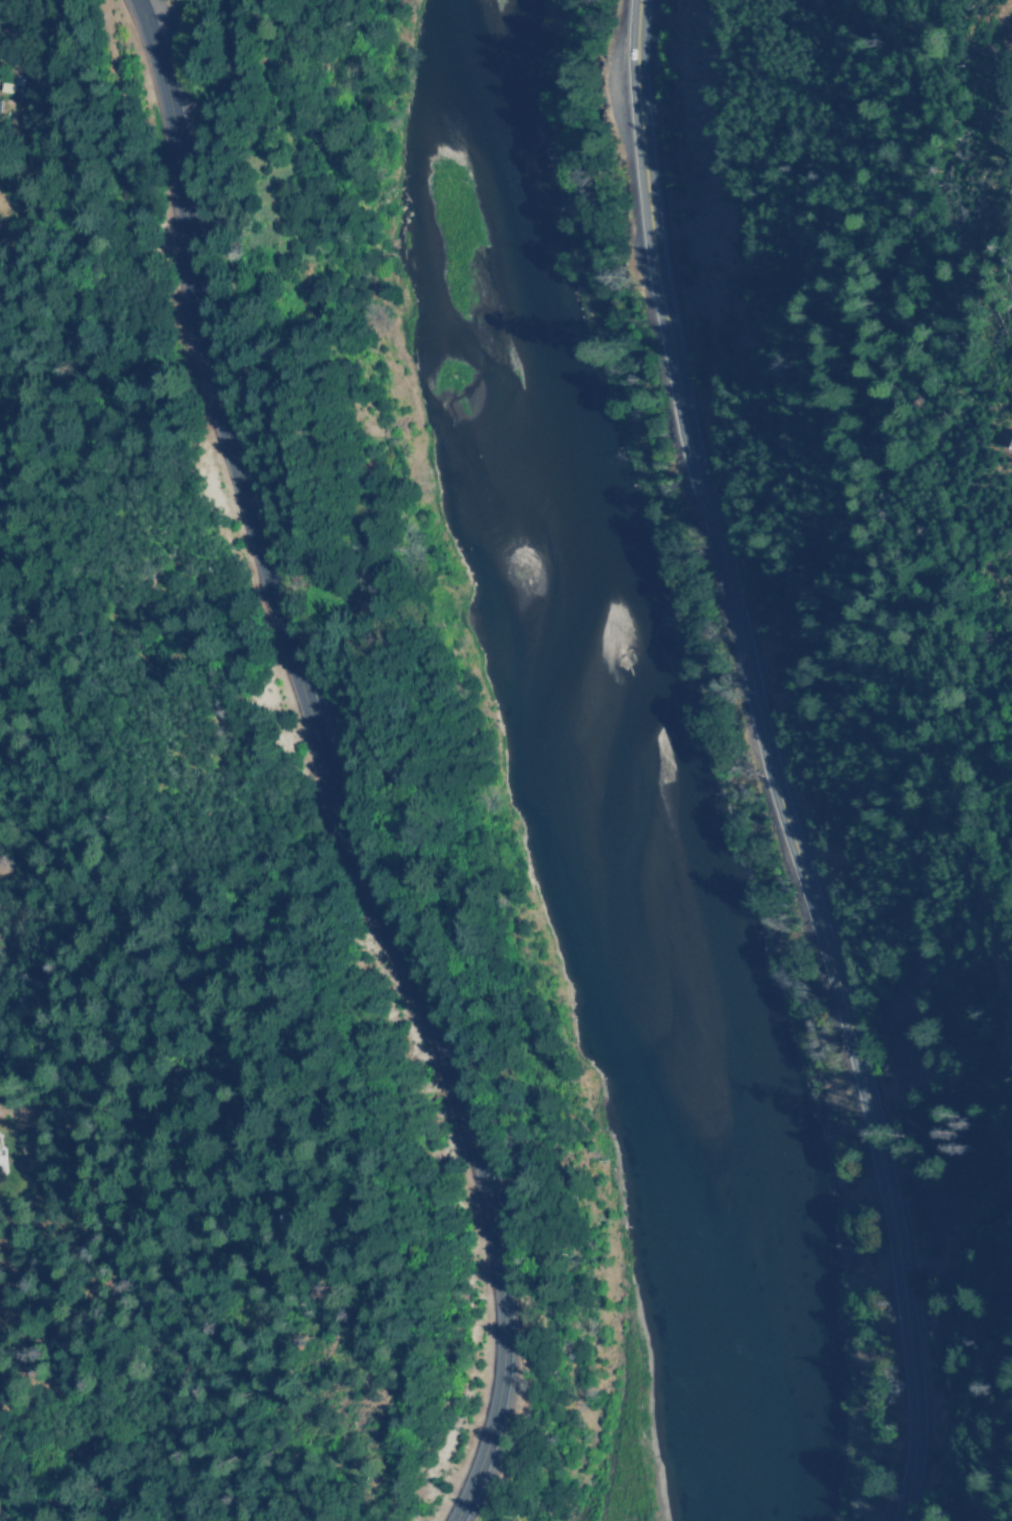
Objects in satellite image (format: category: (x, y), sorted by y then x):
road: (158, 151)
river: (629, 762)
road: (769, 762)
road: (391, 908)

